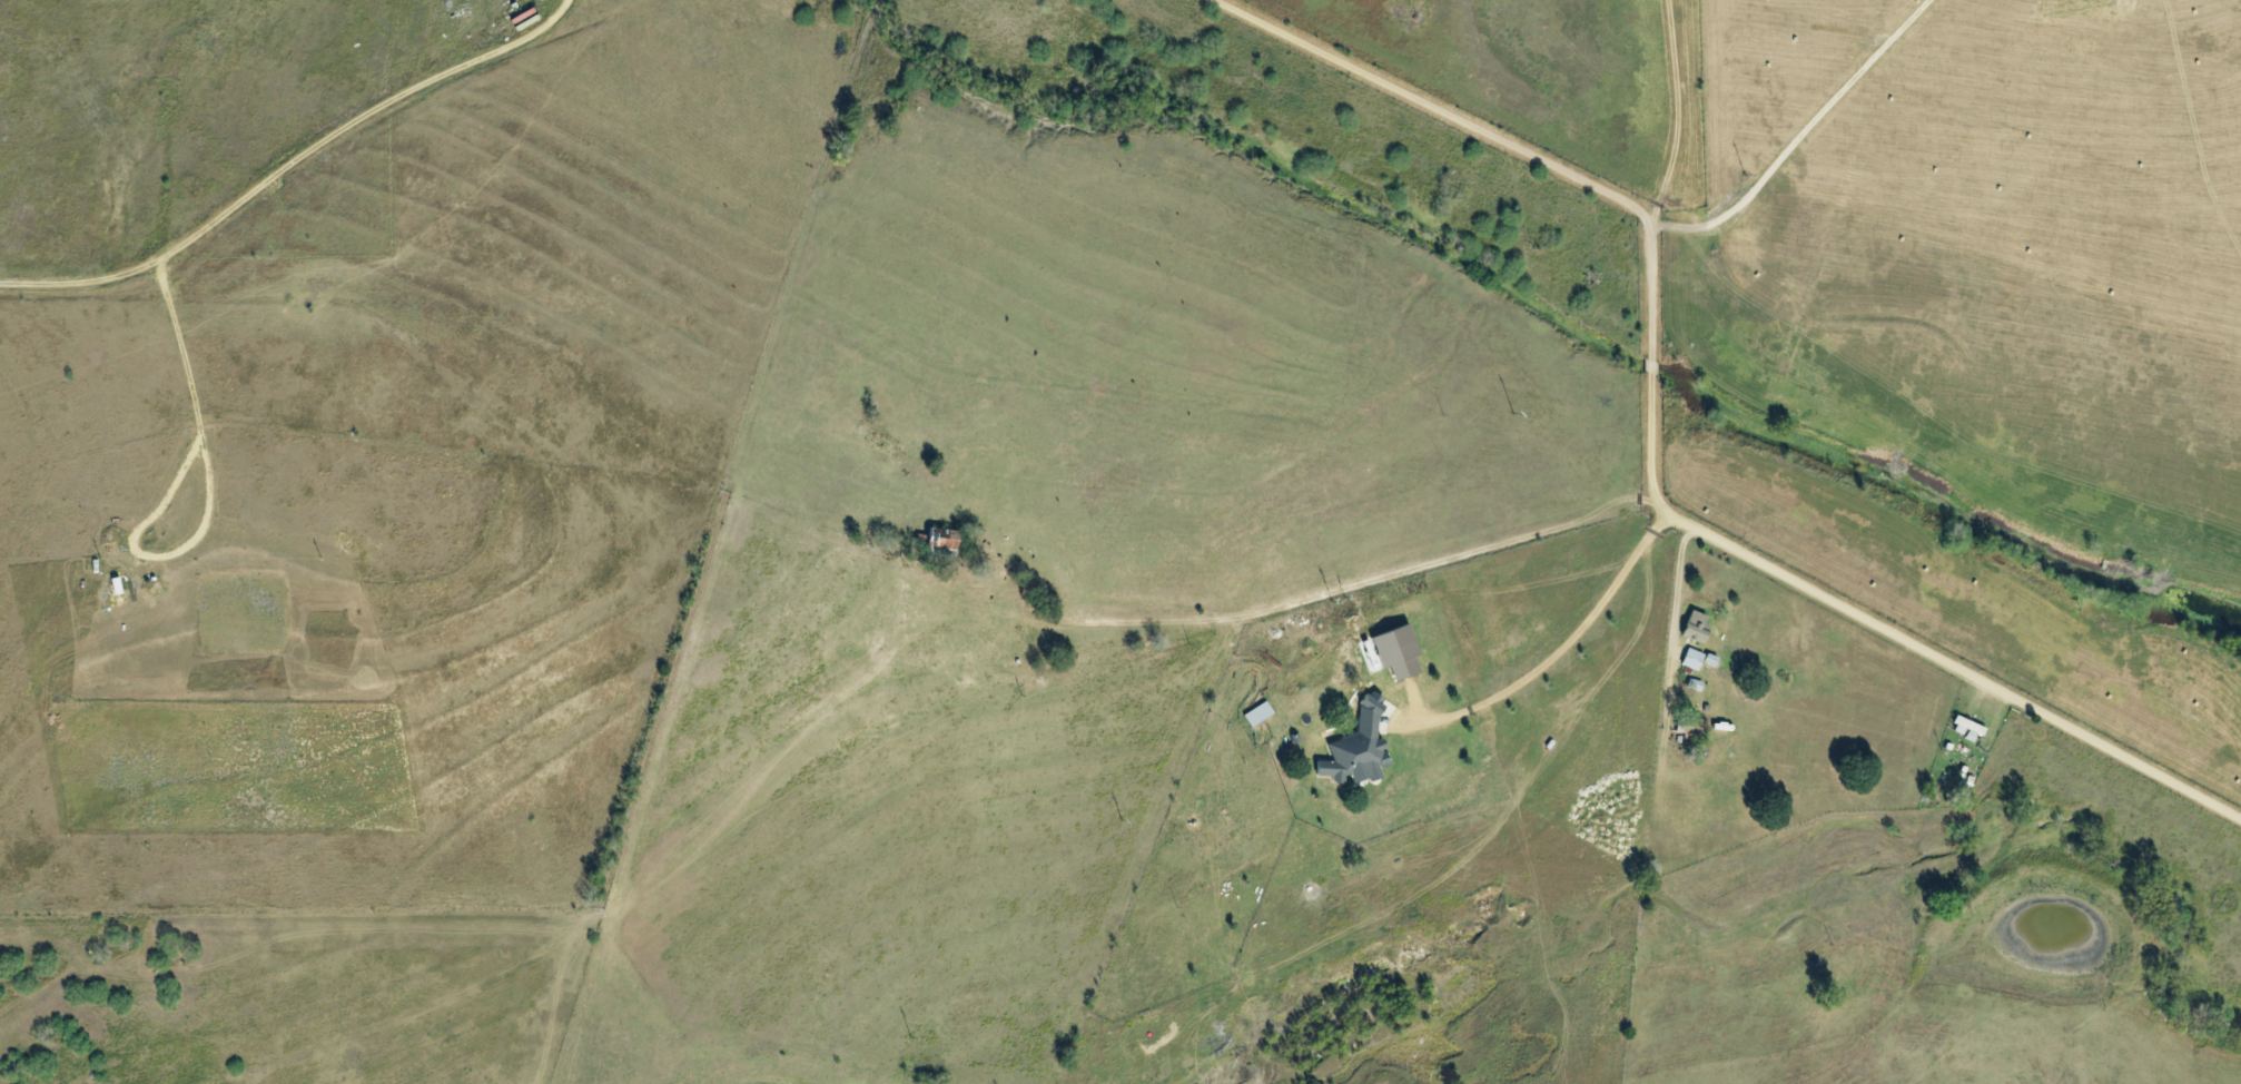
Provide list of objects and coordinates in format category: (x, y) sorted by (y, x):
road: (1684, 106)
road: (1804, 136)
road: (327, 165)
road: (1656, 445)
building: (938, 541)
road: (922, 590)
building: (1692, 625)
building: (1393, 651)
road: (1556, 654)
building: (1690, 659)
building: (1256, 713)
building: (1965, 728)
building: (1355, 748)

